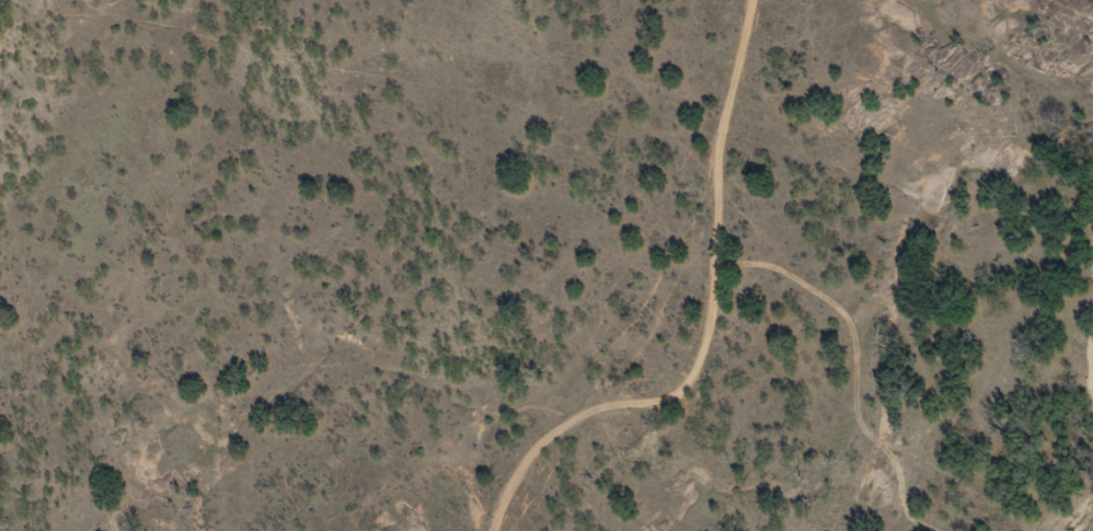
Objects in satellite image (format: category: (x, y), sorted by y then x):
road: (8, 62)
road: (710, 309)

